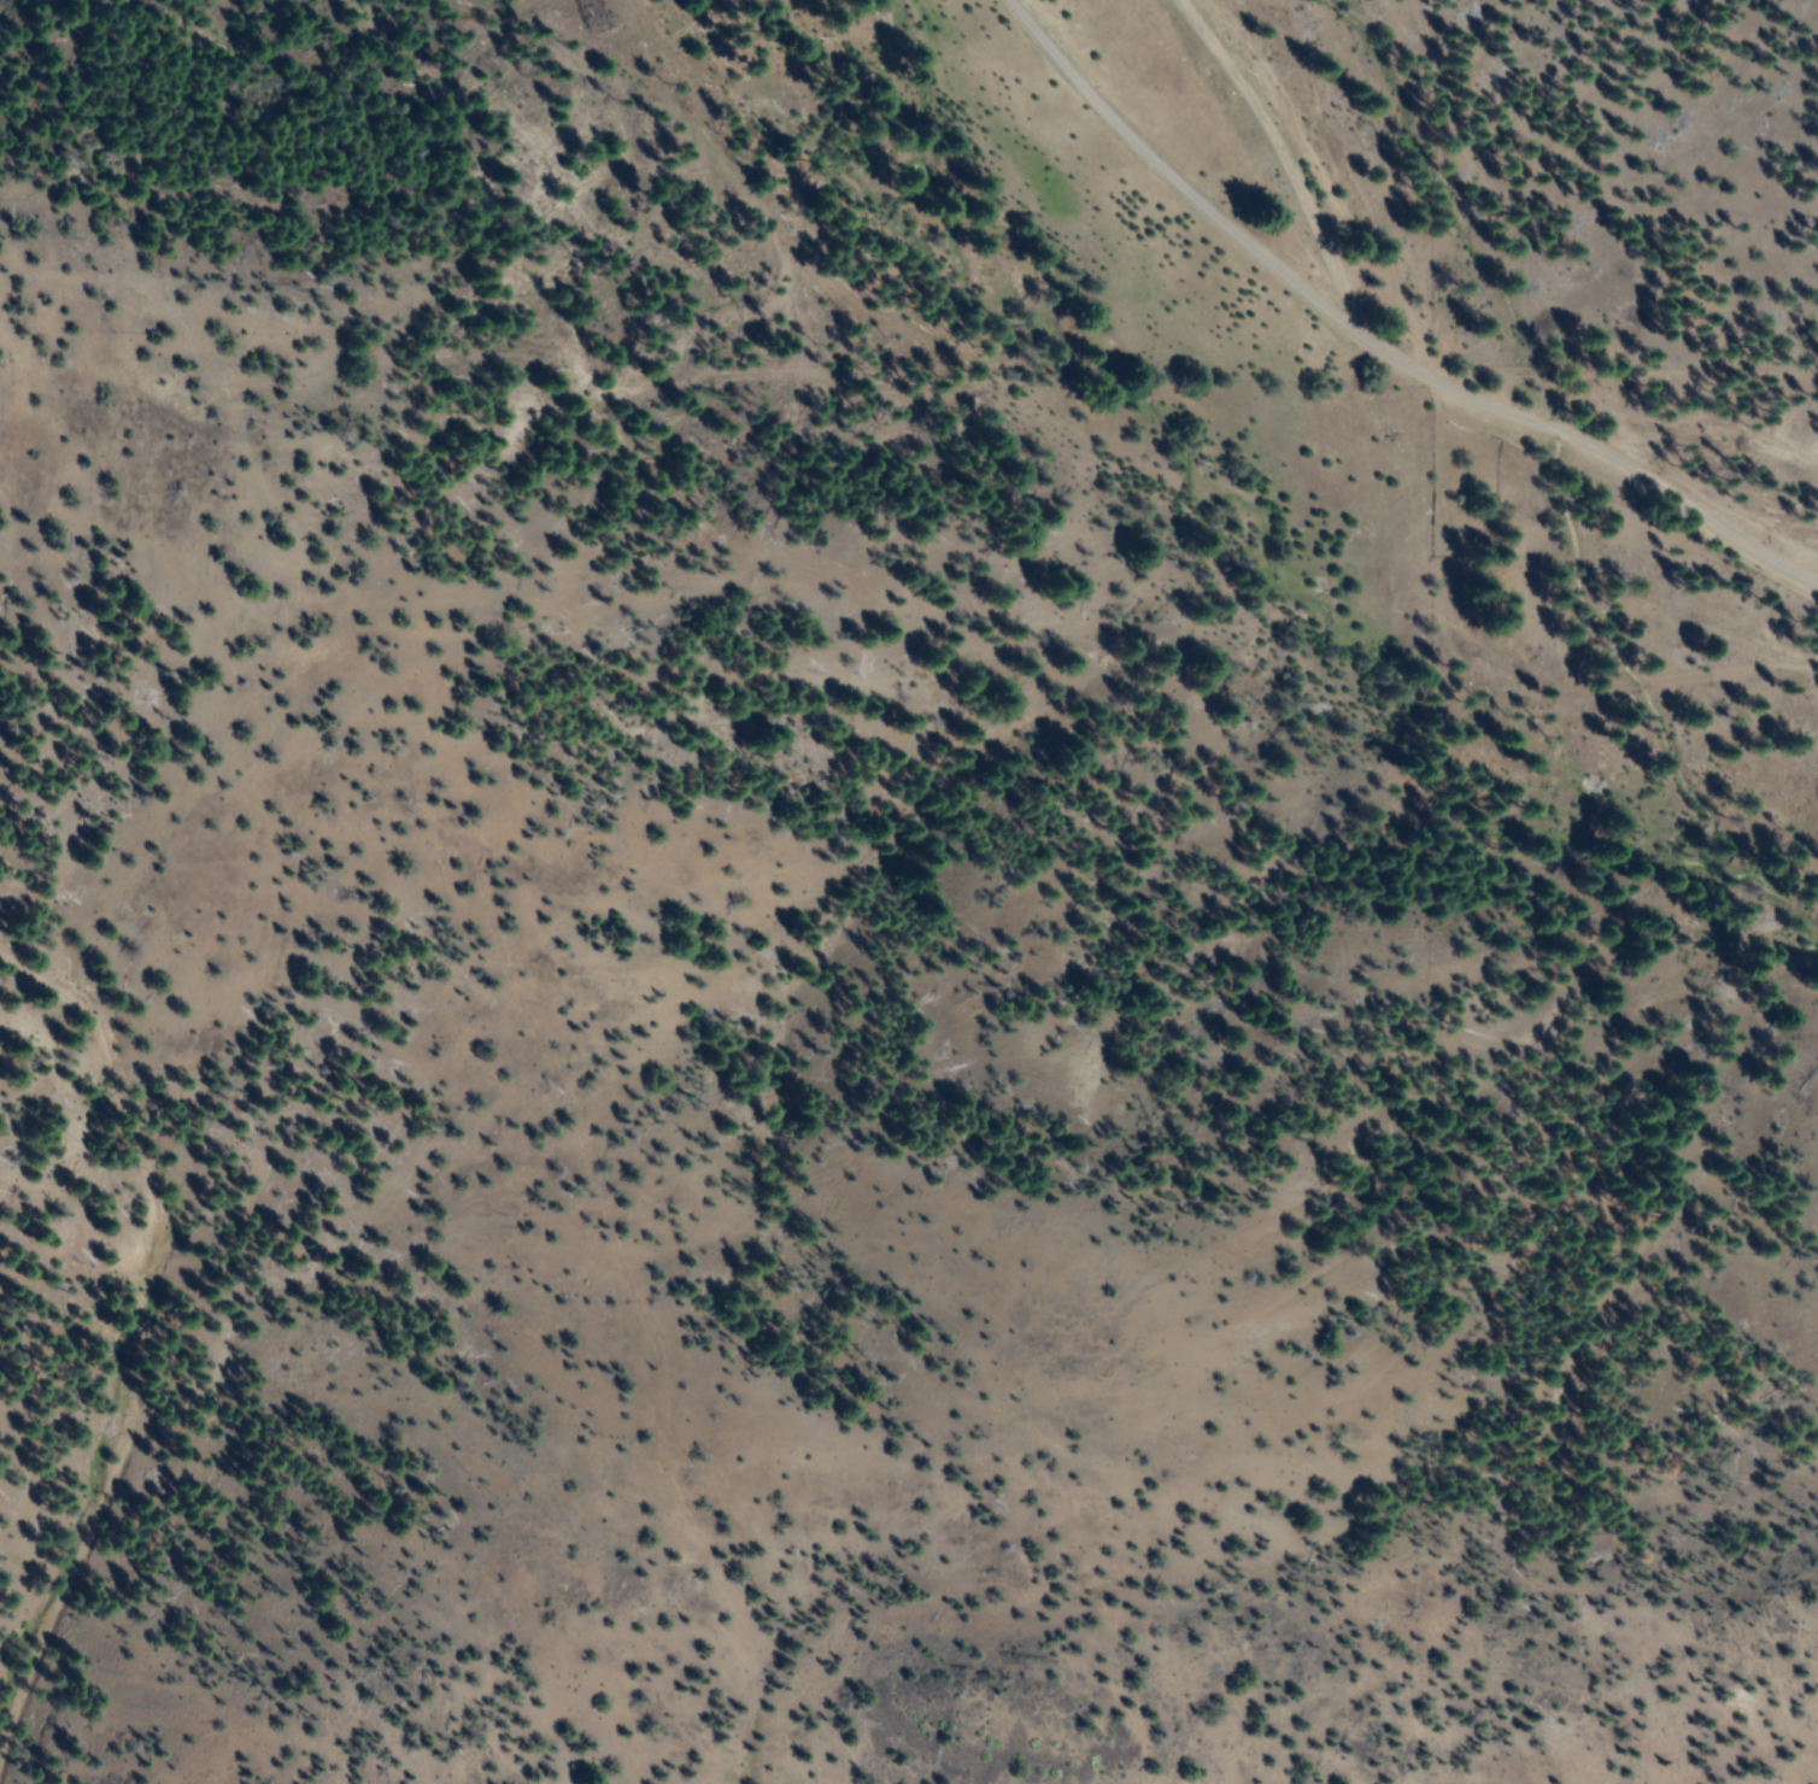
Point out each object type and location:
road: (1419, 158)
road: (1377, 336)

